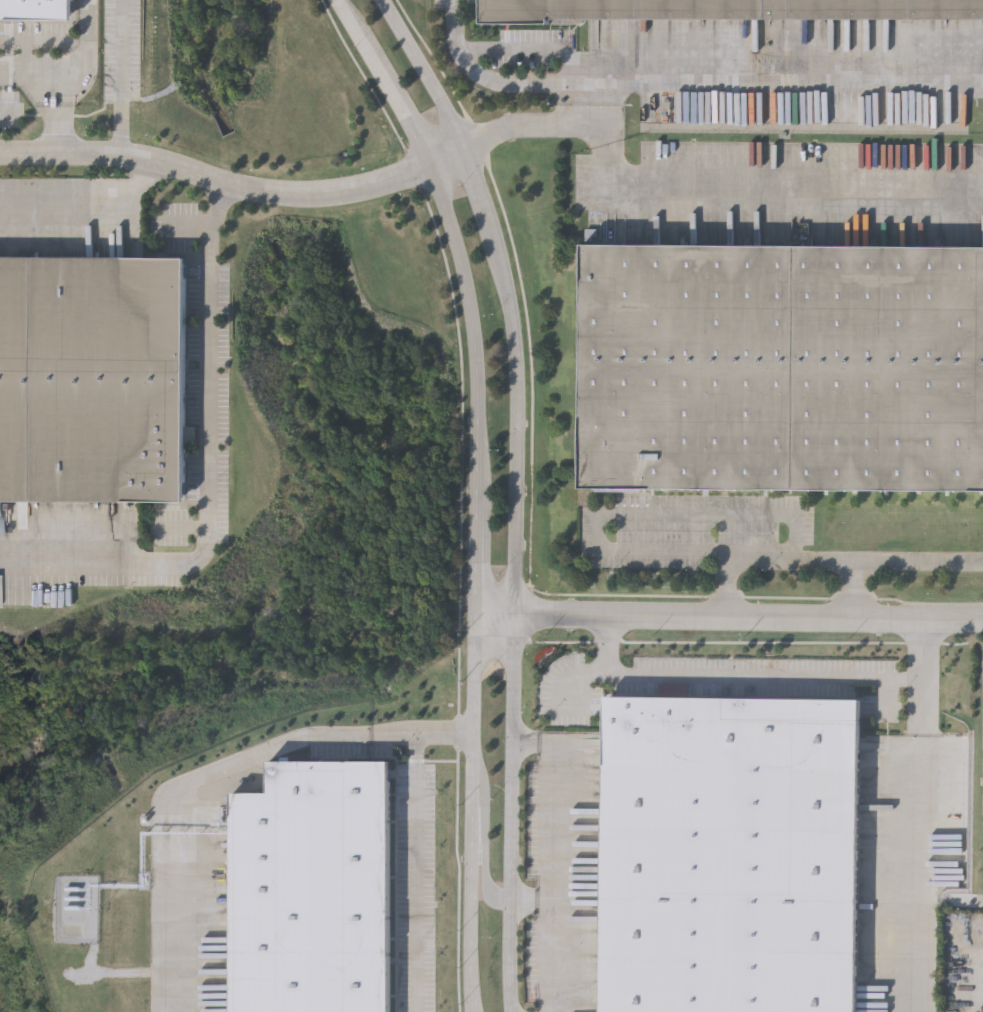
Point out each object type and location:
building: (37, 8)
building: (730, 9)
road: (346, 16)
road: (78, 70)
road: (433, 74)
road: (124, 80)
road: (688, 85)
road: (398, 99)
road: (7, 110)
road: (64, 112)
road: (695, 178)
road: (237, 188)
road: (88, 204)
road: (457, 239)
building: (782, 365)
road: (523, 379)
building: (94, 381)
road: (480, 404)
road: (210, 474)
road: (634, 515)
road: (478, 554)
road: (887, 556)
road: (730, 619)
road: (924, 654)
road: (902, 682)
road: (472, 812)
road: (514, 813)
road: (484, 839)
road: (414, 845)
building: (727, 853)
road: (559, 860)
building: (312, 888)
road: (976, 898)
road: (535, 902)

